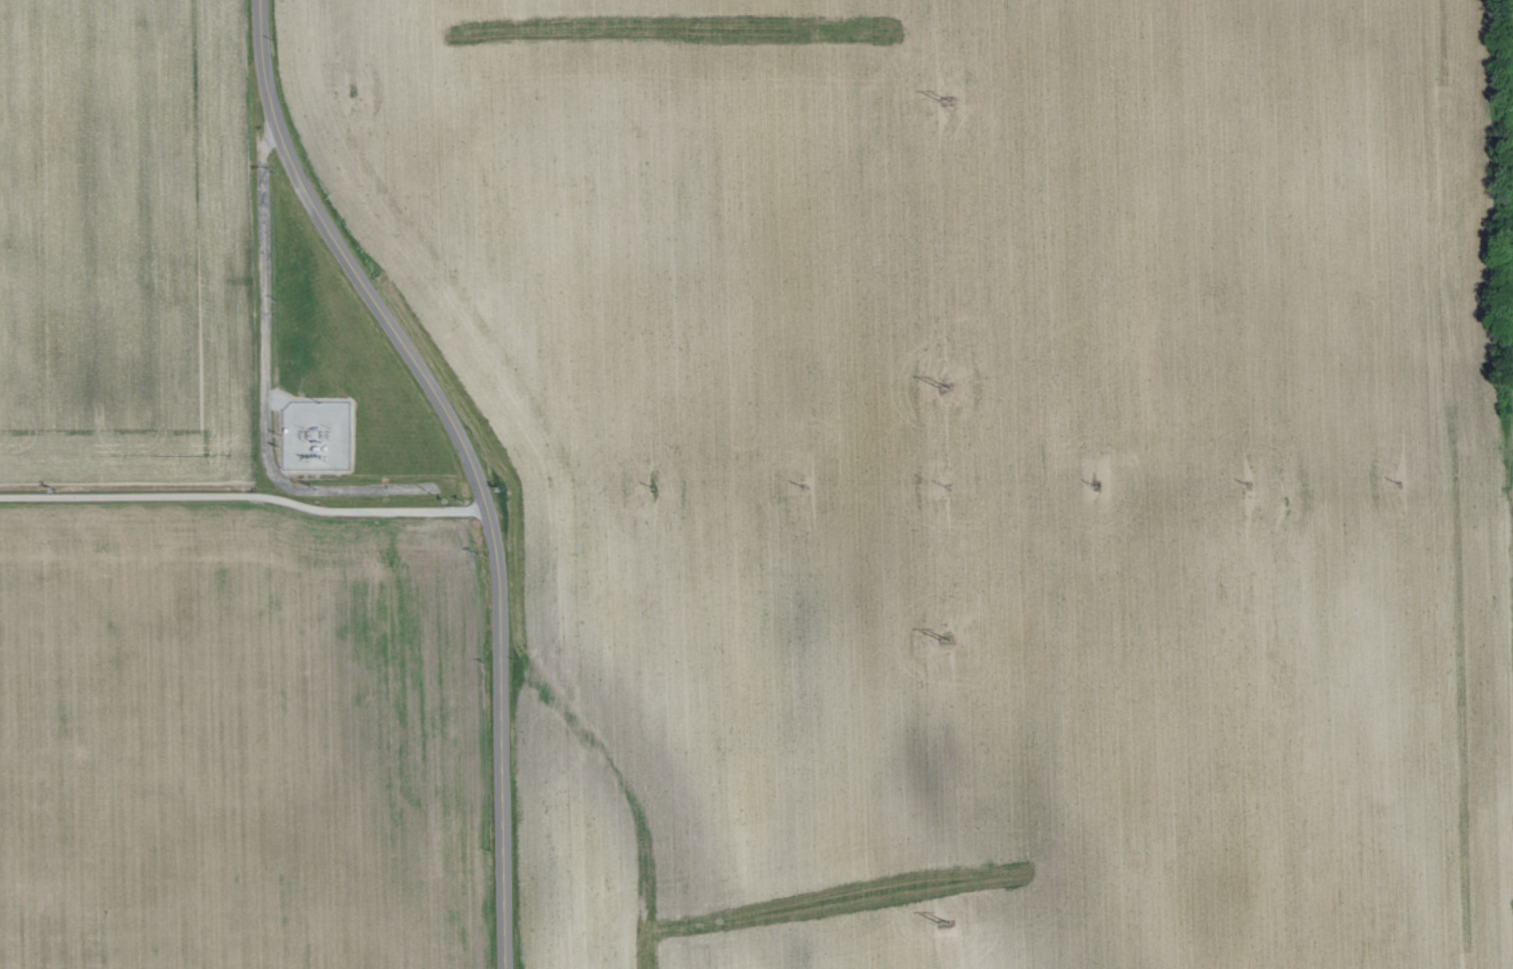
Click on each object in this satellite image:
road: (348, 260)
road: (261, 380)
road: (243, 495)
road: (497, 636)
road: (500, 868)

